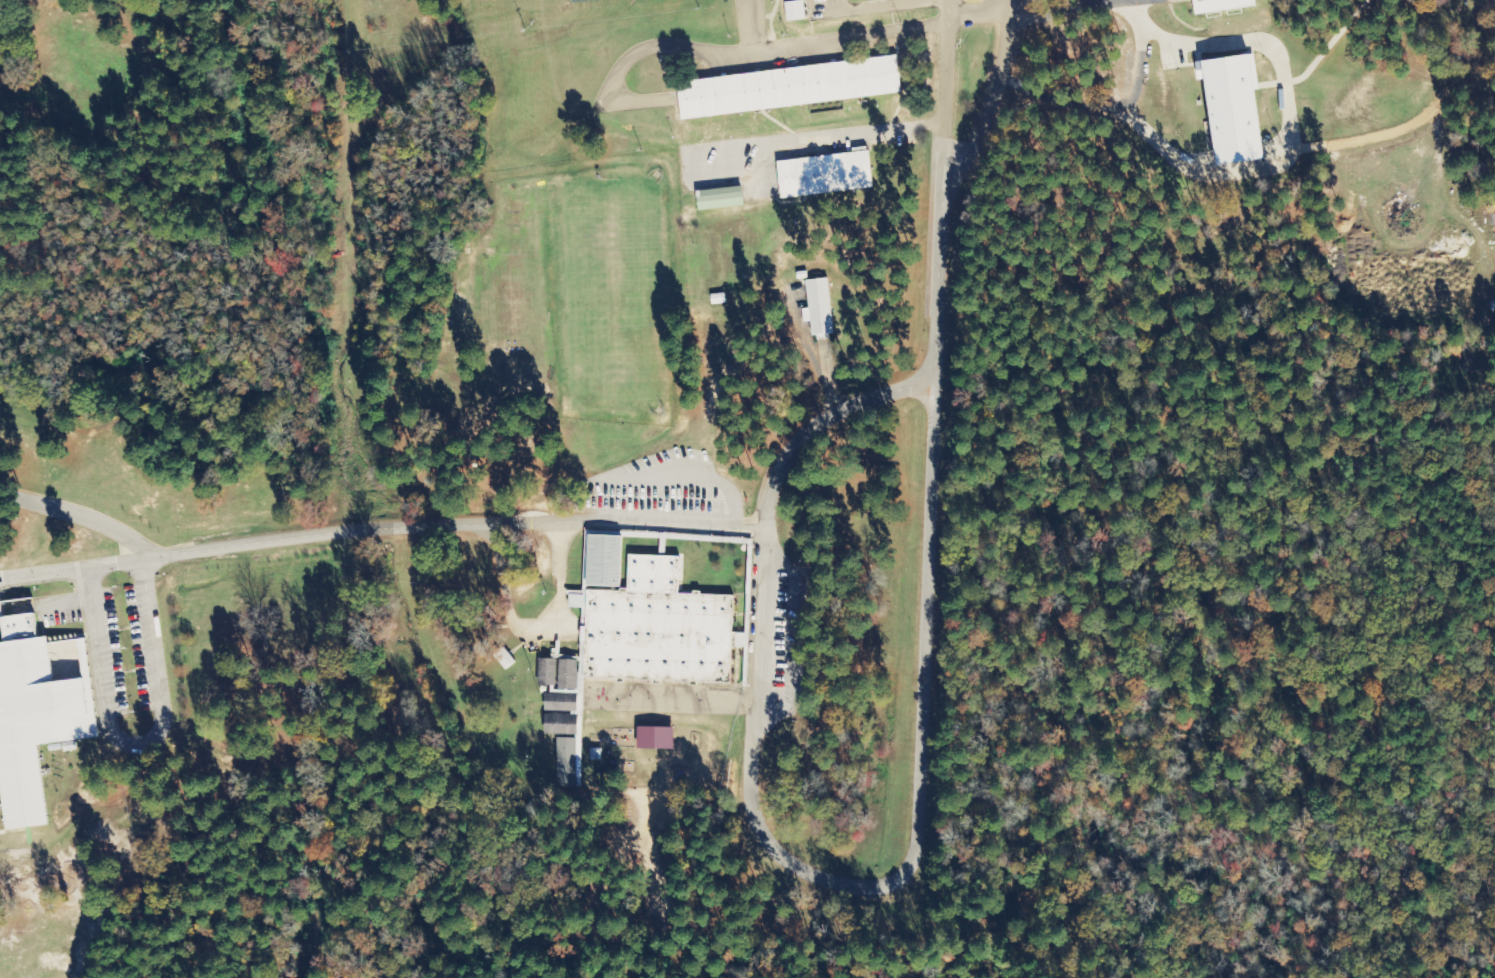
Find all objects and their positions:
building: (1220, 6)
road: (877, 7)
building: (795, 11)
stadium: (1154, 13)
road: (975, 16)
road: (742, 27)
road: (723, 55)
building: (788, 88)
road: (943, 94)
road: (993, 97)
building: (1232, 111)
building: (825, 175)
building: (720, 199)
building: (801, 275)
building: (718, 298)
building: (820, 309)
road: (654, 475)
road: (77, 513)
road: (932, 518)
road: (581, 521)
building: (604, 561)
road: (73, 565)
building: (658, 629)
road: (769, 640)
road: (799, 644)
building: (504, 658)
building: (547, 672)
building: (568, 675)
building: (561, 703)
building: (38, 706)
building: (561, 725)
building: (655, 738)
building: (565, 761)
road: (749, 783)

